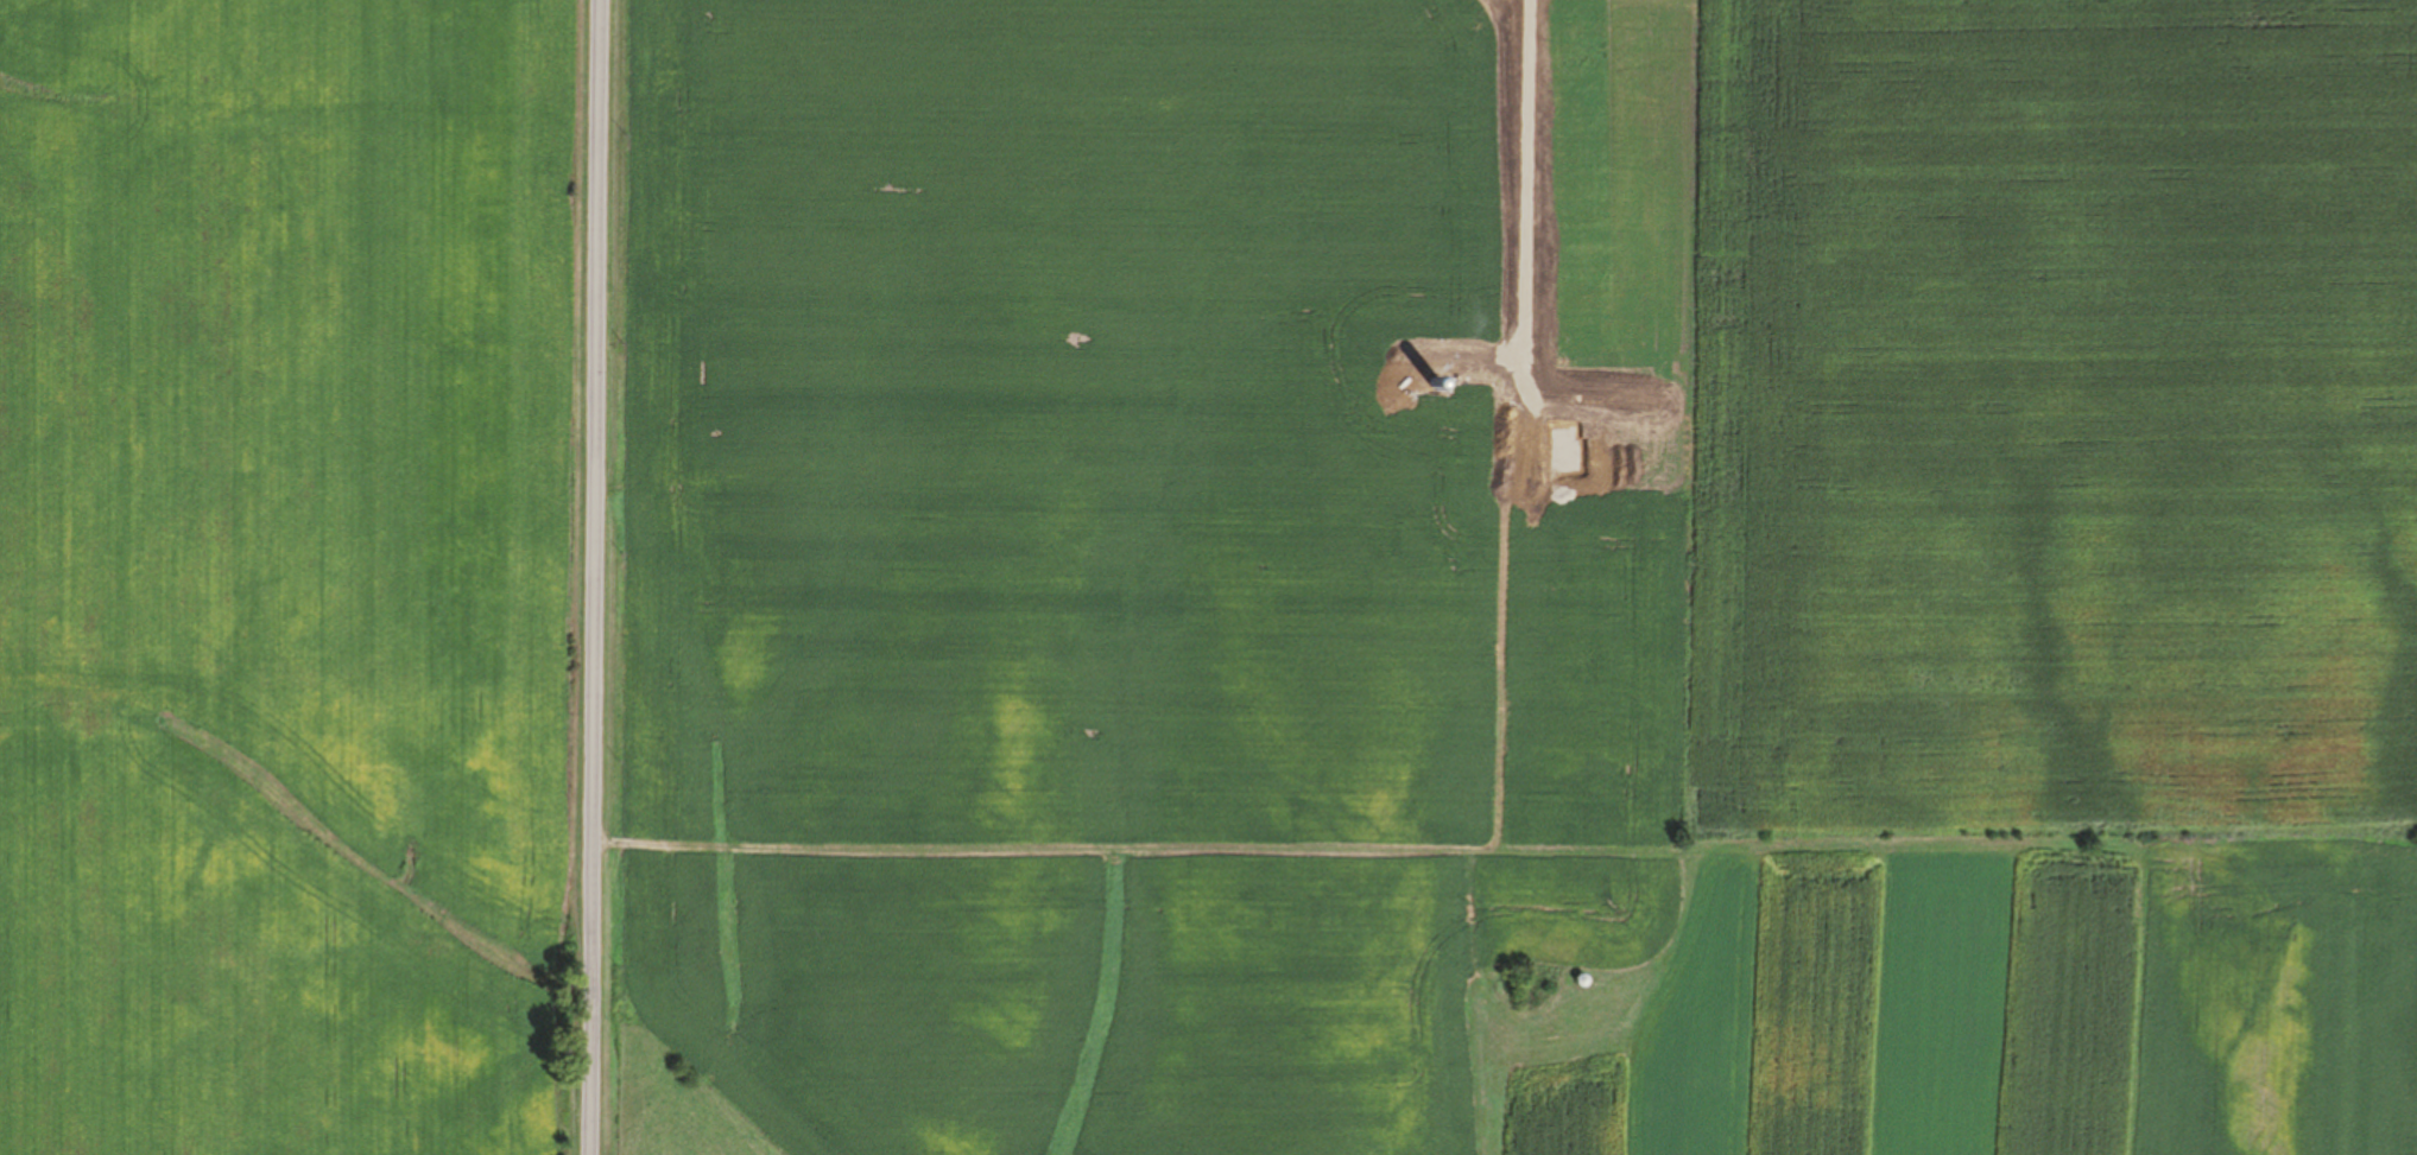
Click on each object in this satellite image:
road: (590, 577)

